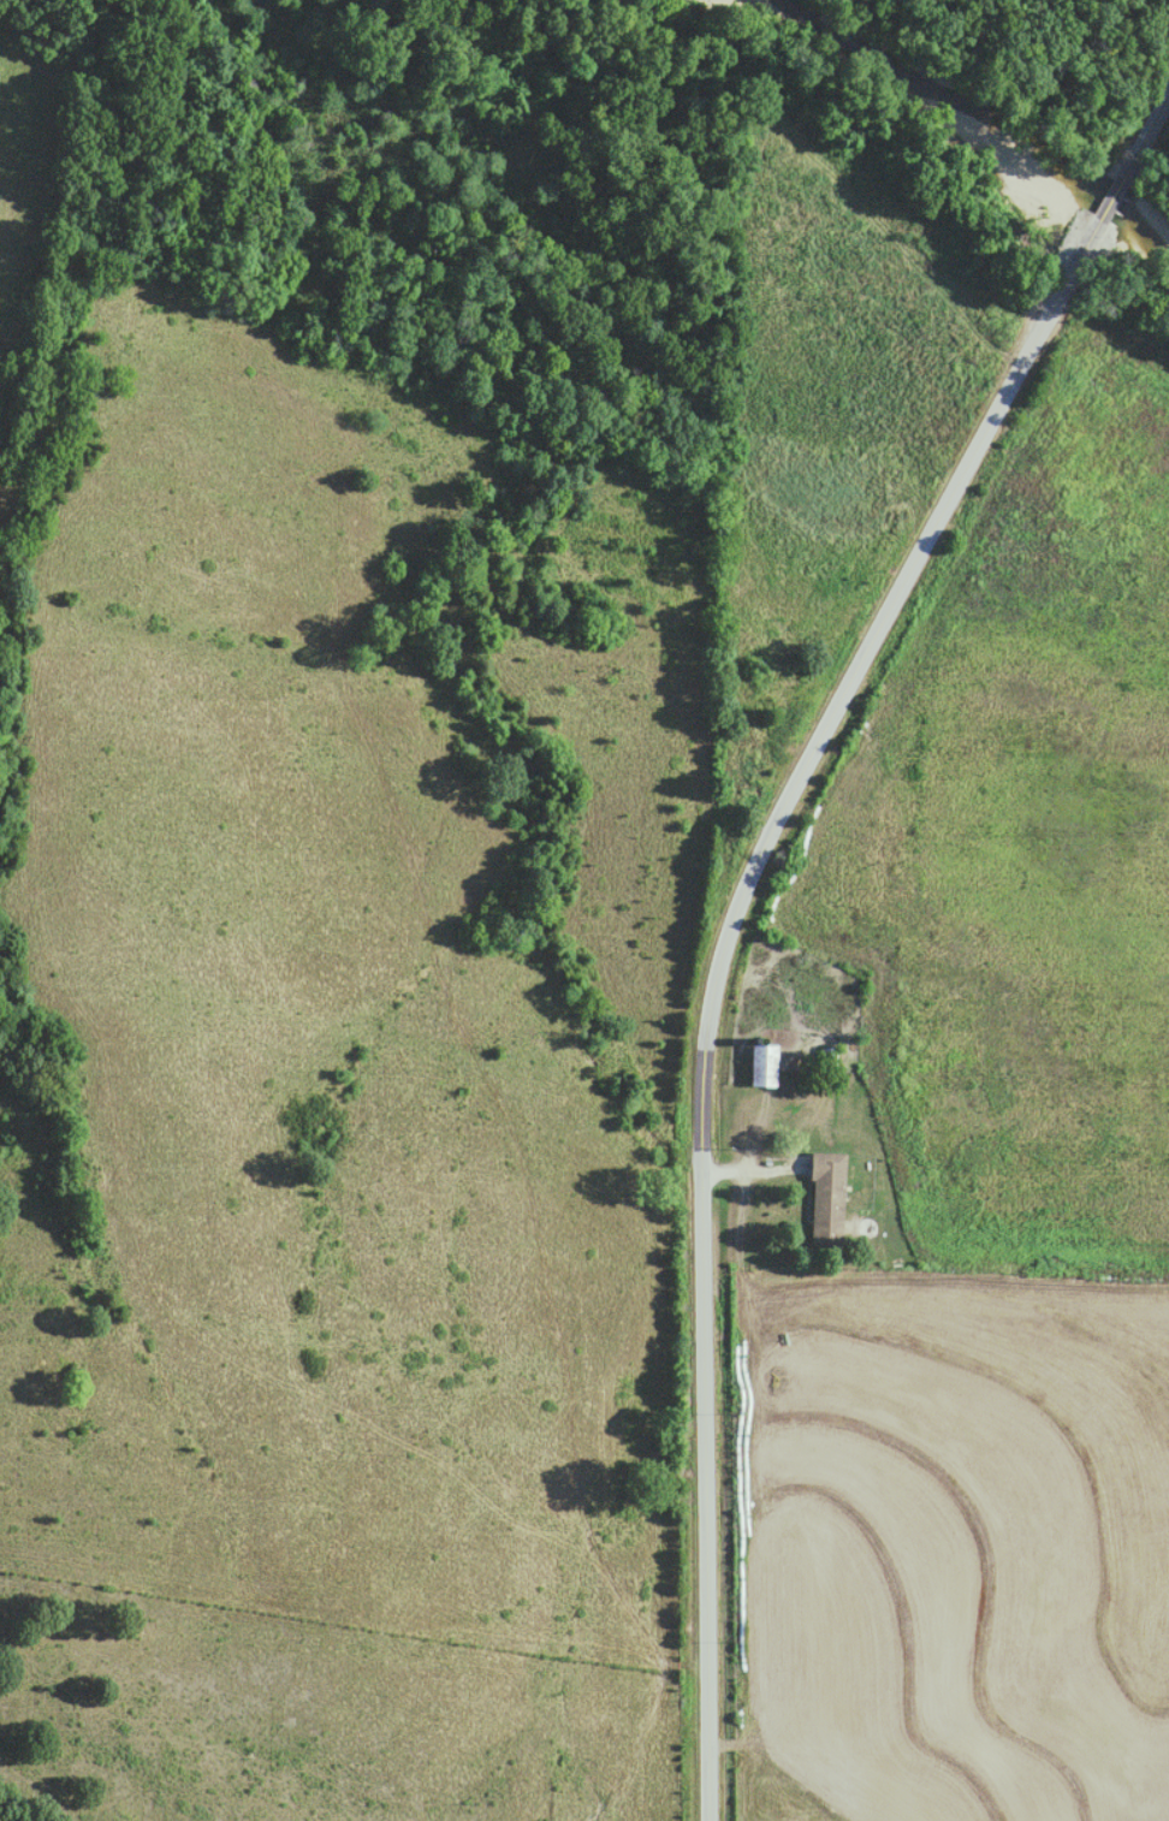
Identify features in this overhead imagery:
road: (734, 901)
building: (766, 1066)
road: (749, 1165)
building: (824, 1194)

